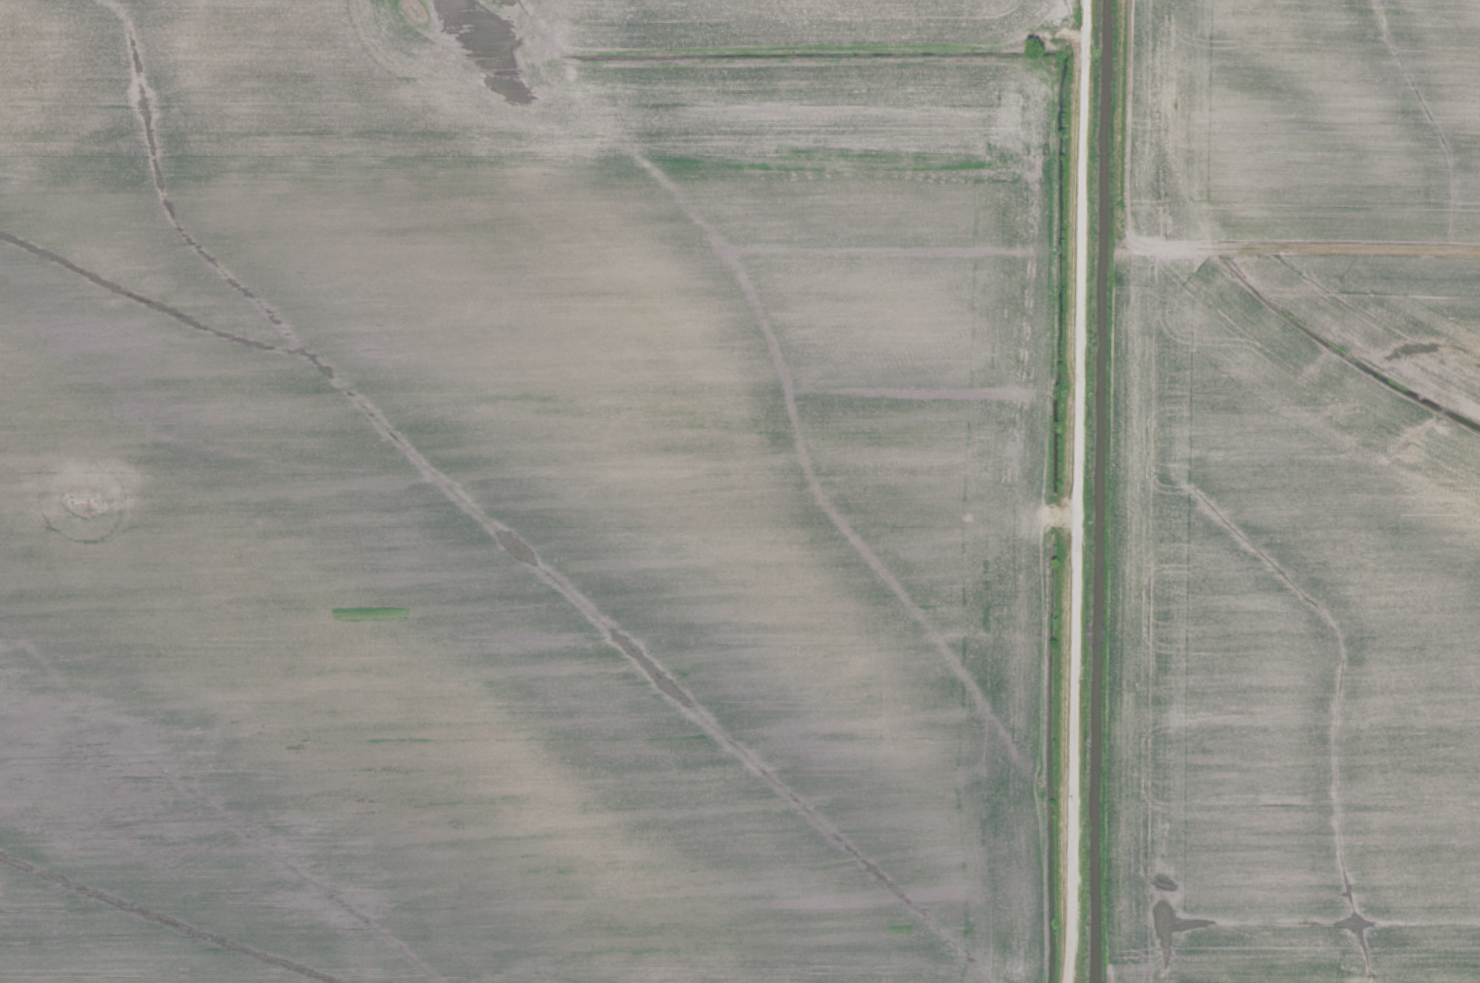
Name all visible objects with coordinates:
road: (1054, 491)

